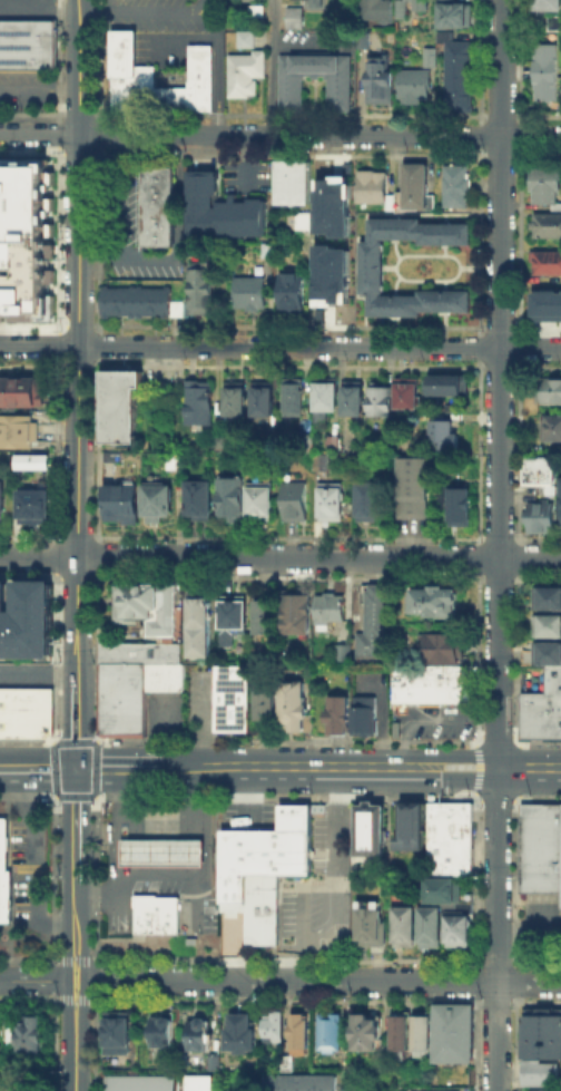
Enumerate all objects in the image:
building: (249, 0)
building: (315, 3)
building: (422, 4)
building: (547, 6)
road: (206, 7)
parking lot: (27, 9)
building: (401, 9)
building: (376, 11)
road: (142, 12)
building: (256, 13)
building: (452, 14)
building: (294, 18)
parking lot: (179, 35)
building: (246, 39)
building: (361, 40)
building: (28, 45)
building: (430, 58)
road: (270, 67)
road: (220, 71)
building: (545, 72)
building: (246, 74)
building: (459, 76)
building: (158, 79)
building: (378, 81)
building: (414, 86)
road: (39, 89)
parking lot: (28, 92)
building: (338, 98)
road: (279, 136)
parking lot: (247, 177)
building: (293, 183)
building: (455, 185)
building: (371, 186)
building: (416, 187)
building: (547, 189)
building: (392, 203)
building: (157, 204)
building: (332, 205)
building: (220, 211)
building: (298, 220)
building: (547, 230)
parking lot: (130, 232)
building: (24, 240)
road: (392, 247)
building: (268, 252)
road: (387, 265)
road: (462, 265)
road: (488, 265)
building: (548, 265)
building: (329, 274)
building: (370, 277)
road: (411, 277)
road: (391, 283)
road: (442, 283)
building: (291, 293)
building: (201, 294)
building: (250, 294)
building: (138, 301)
building: (545, 304)
road: (279, 347)
road: (78, 383)
building: (446, 384)
road: (499, 384)
building: (552, 390)
building: (405, 392)
building: (20, 393)
building: (292, 398)
building: (323, 398)
building: (352, 398)
building: (380, 398)
building: (235, 399)
building: (263, 399)
building: (118, 405)
building: (195, 405)
building: (552, 428)
building: (441, 434)
building: (19, 435)
building: (307, 442)
building: (222, 444)
building: (112, 459)
building: (31, 460)
building: (323, 464)
building: (540, 469)
building: (547, 487)
building: (415, 490)
building: (228, 495)
building: (197, 499)
building: (259, 499)
building: (295, 500)
building: (368, 500)
building: (559, 500)
building: (3, 501)
building: (155, 501)
building: (120, 503)
building: (331, 503)
building: (37, 508)
building: (463, 510)
building: (539, 515)
road: (279, 557)
building: (549, 601)
building: (435, 603)
building: (147, 604)
building: (332, 613)
building: (297, 614)
building: (26, 618)
building: (267, 620)
building: (234, 622)
building: (376, 625)
building: (549, 627)
building: (201, 630)
building: (444, 650)
building: (345, 654)
building: (543, 655)
parking lot: (28, 674)
road: (38, 675)
building: (134, 681)
building: (433, 688)
building: (230, 698)
building: (265, 701)
building: (291, 702)
building: (26, 711)
building: (543, 711)
building: (337, 713)
building: (362, 713)
road: (204, 723)
road: (38, 768)
traffic signals: (76, 769)
road: (117, 769)
road: (360, 770)
road: (120, 800)
road: (161, 818)
road: (76, 824)
building: (410, 826)
building: (367, 828)
building: (449, 837)
building: (542, 847)
building: (161, 851)
building: (263, 853)
parking lot: (28, 860)
road: (31, 861)
road: (114, 861)
road: (204, 865)
building: (6, 877)
building: (442, 888)
building: (259, 908)
road: (76, 909)
building: (156, 913)
gas station: (156, 913)
building: (368, 923)
building: (429, 924)
building: (403, 925)
building: (456, 928)
road: (529, 929)
road: (498, 931)
road: (33, 978)
road: (75, 980)
road: (322, 981)
road: (67, 982)
road: (83, 982)
building: (274, 1029)
building: (365, 1031)
building: (27, 1032)
building: (163, 1032)
building: (398, 1032)
building: (421, 1032)
building: (452, 1032)
building: (118, 1034)
building: (243, 1034)
building: (541, 1034)
building: (301, 1035)
building: (333, 1036)
building: (199, 1038)
road: (73, 1058)
building: (217, 1062)
building: (288, 1064)
building: (539, 1071)
building: (203, 1084)
building: (304, 1084)
building: (141, 1085)
building: (545, 1088)
parking lot: (356, 1090)

